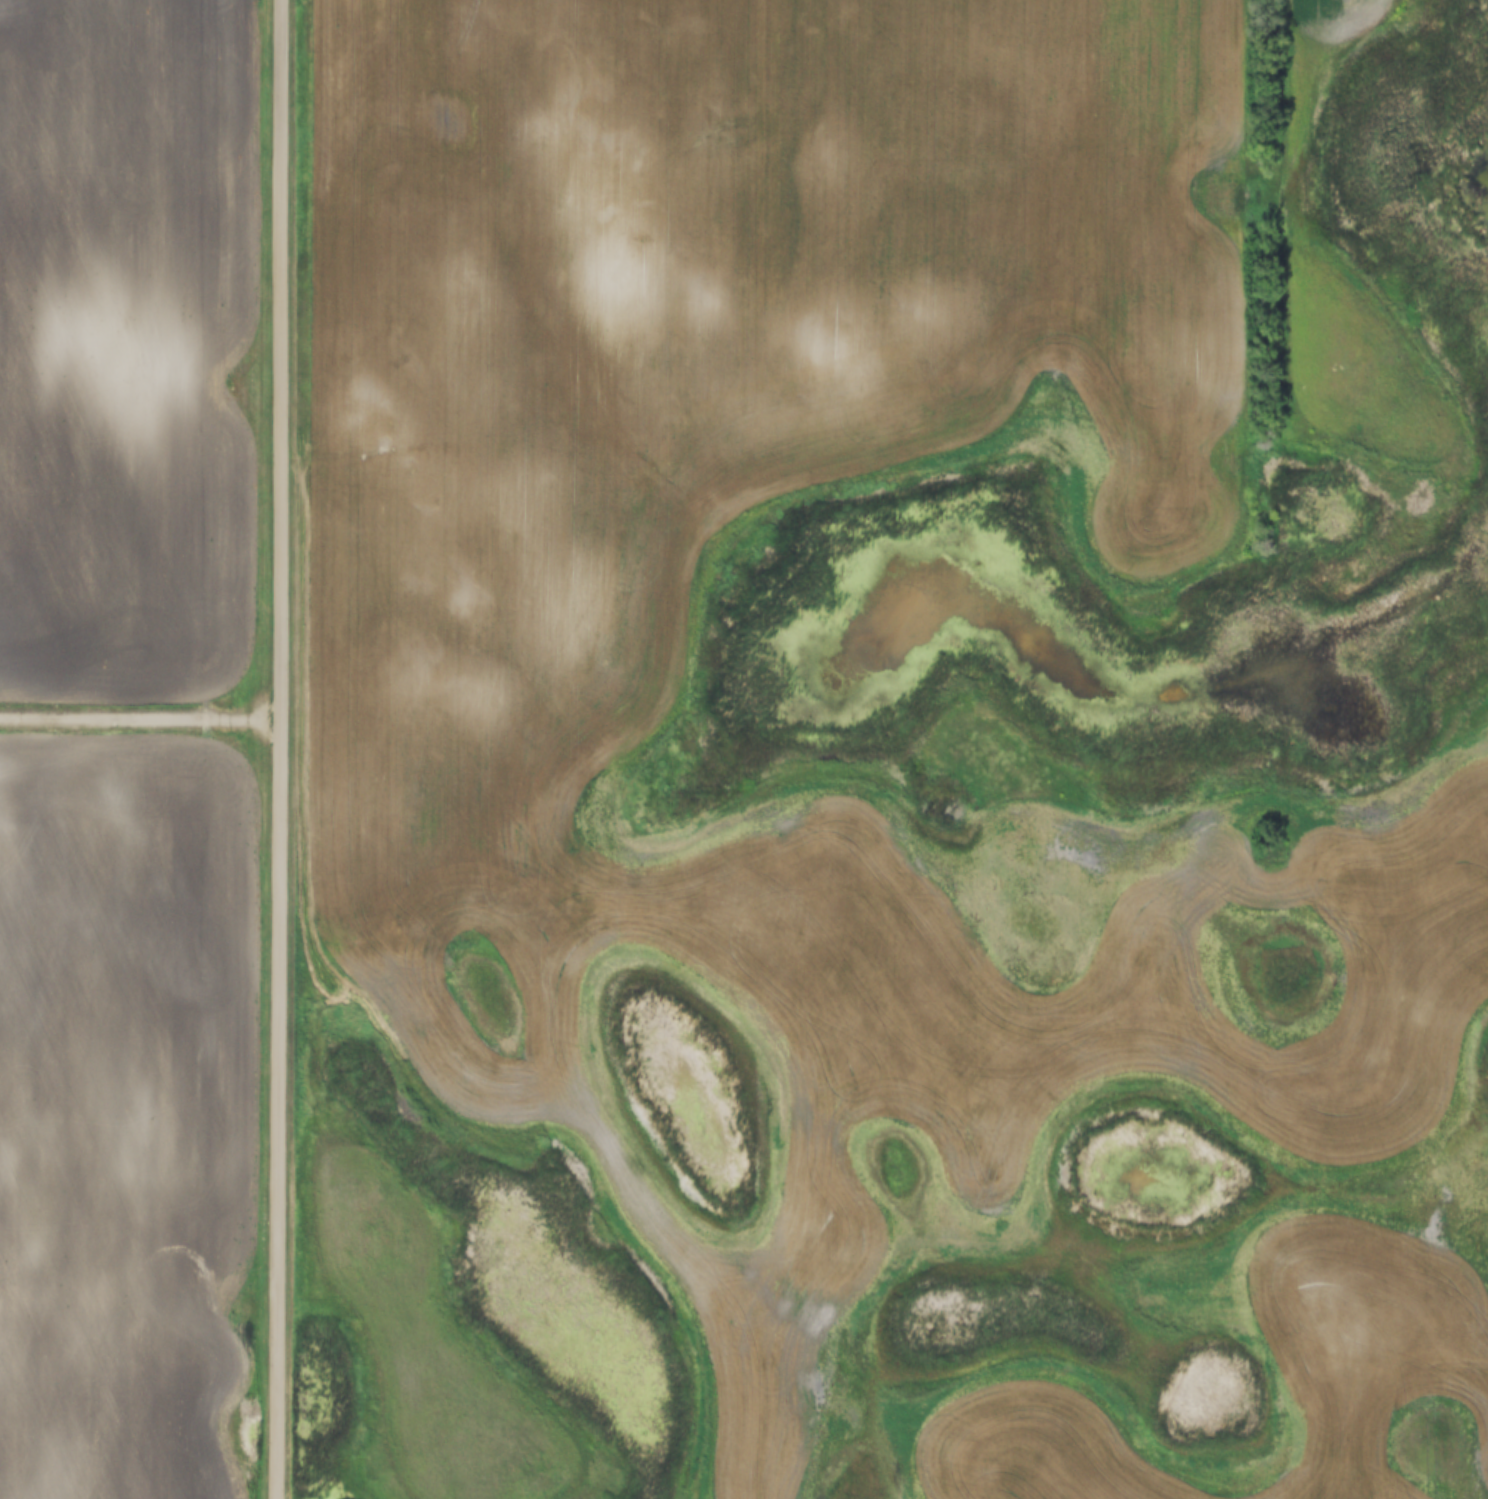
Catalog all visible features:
road: (141, 720)
road: (282, 749)

